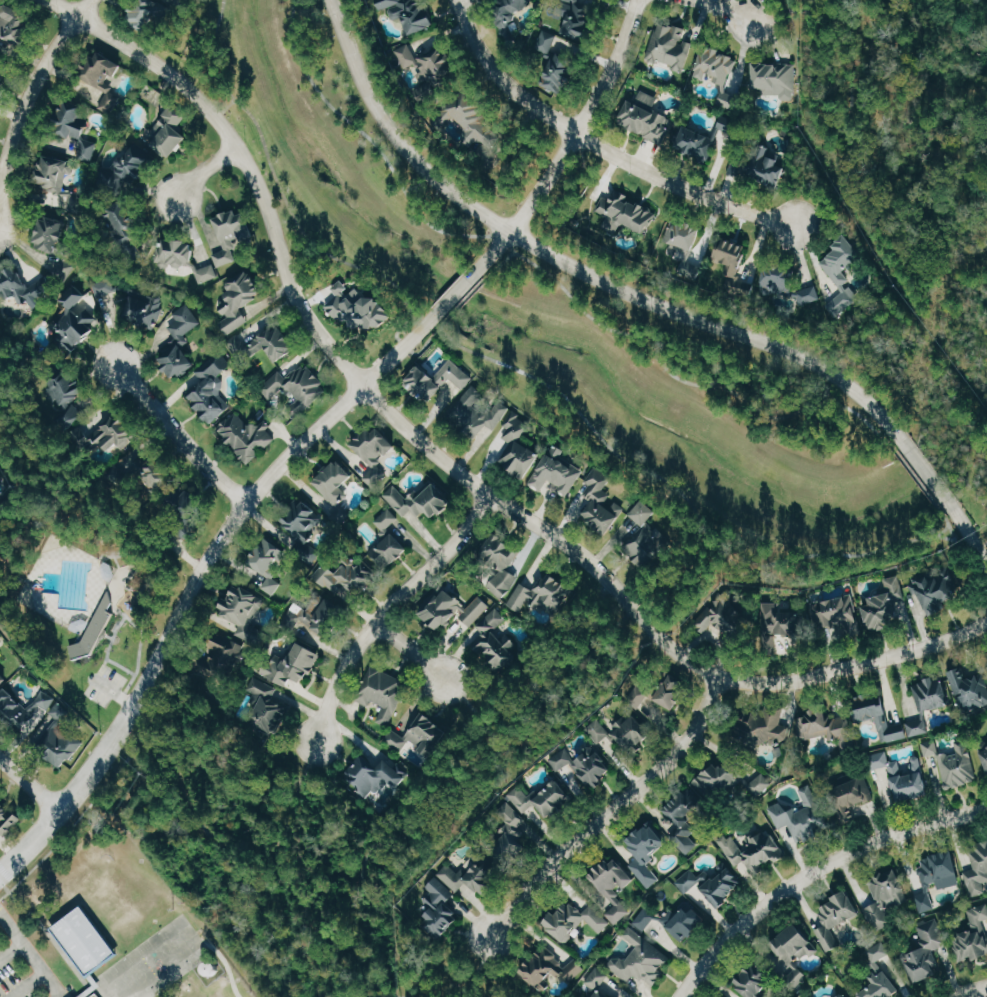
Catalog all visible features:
road: (724, 10)
road: (779, 10)
building: (407, 12)
building: (148, 15)
building: (507, 15)
building: (578, 20)
building: (14, 26)
building: (666, 45)
building: (553, 62)
building: (424, 69)
building: (3, 71)
building: (104, 71)
building: (715, 71)
building: (773, 78)
road: (33, 92)
building: (112, 101)
building: (643, 115)
building: (470, 117)
road: (848, 118)
building: (77, 128)
building: (170, 132)
building: (700, 136)
road: (368, 137)
park: (907, 138)
road: (600, 145)
road: (569, 150)
building: (756, 169)
building: (133, 170)
road: (206, 172)
building: (55, 175)
road: (565, 192)
building: (623, 213)
road: (300, 227)
building: (129, 234)
building: (232, 235)
road: (501, 243)
building: (682, 243)
building: (175, 251)
building: (733, 261)
road: (497, 264)
building: (67, 270)
building: (840, 270)
road: (580, 272)
building: (208, 273)
building: (785, 280)
building: (24, 288)
road: (455, 294)
road: (467, 295)
building: (241, 300)
building: (132, 303)
building: (359, 308)
building: (78, 320)
building: (180, 341)
building: (273, 343)
building: (439, 381)
building: (295, 384)
road: (699, 384)
building: (212, 389)
building: (72, 396)
building: (479, 414)
road: (584, 419)
building: (117, 433)
road: (177, 435)
building: (247, 435)
building: (376, 445)
building: (519, 447)
road: (445, 461)
building: (154, 472)
building: (376, 475)
building: (558, 475)
road: (927, 475)
road: (917, 480)
building: (337, 489)
building: (422, 500)
building: (602, 502)
building: (187, 503)
building: (644, 513)
building: (389, 520)
road: (945, 521)
building: (306, 530)
road: (967, 532)
building: (648, 546)
building: (391, 551)
building: (270, 564)
building: (323, 572)
road: (200, 573)
building: (522, 579)
road: (141, 585)
building: (937, 589)
building: (332, 598)
building: (886, 605)
building: (243, 606)
road: (387, 610)
building: (454, 612)
building: (839, 615)
building: (724, 622)
building: (779, 622)
building: (94, 629)
road: (610, 636)
building: (1, 640)
building: (498, 641)
road: (106, 649)
road: (410, 652)
building: (227, 655)
building: (296, 668)
building: (2, 680)
parking lot: (103, 686)
building: (970, 688)
road: (112, 692)
building: (662, 692)
building: (385, 693)
building: (933, 693)
building: (267, 708)
building: (25, 710)
road: (474, 712)
building: (887, 718)
building: (765, 727)
building: (826, 728)
building: (599, 730)
building: (632, 732)
building: (422, 734)
road: (163, 735)
building: (60, 744)
building: (931, 747)
building: (985, 752)
building: (881, 759)
building: (585, 763)
building: (958, 766)
building: (379, 776)
road: (27, 777)
building: (910, 778)
building: (730, 779)
building: (853, 796)
building: (544, 798)
road: (610, 811)
road: (80, 814)
road: (284, 815)
building: (7, 817)
building: (684, 821)
building: (801, 821)
building: (511, 831)
building: (755, 849)
building: (648, 851)
building: (941, 869)
building: (977, 869)
road: (814, 873)
building: (473, 874)
building: (687, 878)
building: (721, 885)
building: (614, 886)
building: (886, 897)
building: (925, 901)
building: (440, 907)
building: (645, 918)
building: (836, 918)
building: (577, 919)
building: (688, 922)
building: (974, 935)
building: (83, 940)
road: (52, 941)
road: (10, 949)
building: (926, 951)
road: (216, 953)
building: (791, 953)
road: (30, 955)
building: (642, 959)
parking lot: (24, 967)
road: (476, 967)
building: (552, 970)
building: (879, 974)
building: (757, 981)
building: (598, 983)
road: (25, 984)
road: (91, 986)
road: (971, 990)
building: (93, 994)
road: (319, 994)

